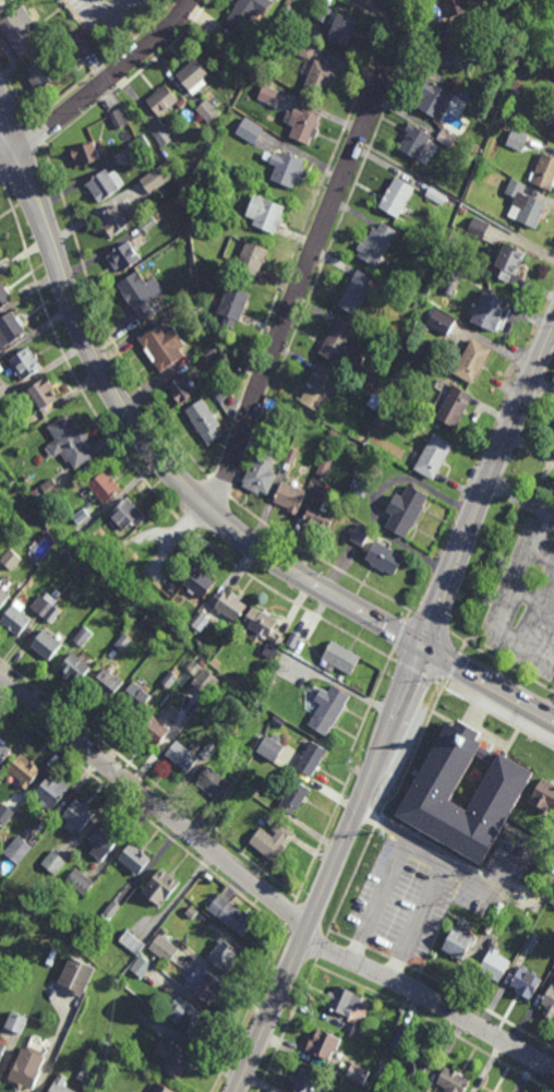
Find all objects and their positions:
building: (455, 7)
building: (62, 10)
building: (242, 13)
building: (324, 13)
road: (106, 20)
building: (344, 28)
building: (19, 31)
building: (81, 45)
building: (457, 47)
building: (246, 49)
building: (303, 50)
road: (103, 62)
building: (45, 71)
building: (193, 74)
building: (321, 77)
road: (130, 80)
road: (106, 81)
road: (15, 93)
building: (514, 93)
building: (268, 95)
building: (433, 97)
building: (161, 99)
building: (181, 101)
building: (207, 111)
building: (119, 118)
building: (304, 125)
building: (250, 130)
building: (552, 130)
road: (37, 133)
road: (8, 134)
building: (162, 135)
building: (517, 137)
building: (446, 140)
building: (414, 141)
building: (141, 144)
road: (8, 147)
building: (204, 147)
building: (86, 153)
road: (8, 160)
building: (287, 168)
building: (544, 171)
building: (156, 178)
road: (2, 182)
building: (105, 183)
building: (433, 193)
building: (397, 196)
building: (213, 204)
building: (525, 204)
building: (265, 213)
building: (115, 219)
building: (149, 223)
building: (478, 228)
road: (301, 232)
building: (376, 243)
road: (329, 250)
road: (310, 253)
building: (124, 255)
building: (252, 256)
building: (505, 262)
building: (1, 264)
building: (456, 275)
building: (449, 288)
building: (357, 292)
building: (141, 293)
building: (4, 296)
building: (232, 305)
building: (490, 310)
road: (104, 322)
building: (441, 322)
building: (11, 328)
building: (162, 345)
building: (341, 346)
building: (395, 349)
building: (210, 352)
building: (472, 361)
building: (25, 362)
building: (320, 386)
building: (180, 389)
building: (221, 391)
building: (43, 394)
building: (455, 406)
building: (204, 421)
building: (28, 422)
building: (71, 442)
road: (155, 454)
building: (291, 456)
building: (433, 457)
building: (323, 467)
building: (262, 470)
road: (138, 473)
building: (360, 484)
building: (552, 484)
road: (218, 488)
building: (103, 489)
building: (46, 491)
building: (289, 497)
road: (522, 502)
building: (406, 511)
building: (322, 512)
building: (128, 514)
building: (82, 519)
building: (360, 535)
building: (56, 553)
building: (113, 553)
road: (320, 557)
building: (40, 559)
building: (385, 559)
building: (11, 560)
building: (4, 564)
building: (200, 583)
building: (3, 598)
road: (507, 600)
building: (230, 605)
building: (48, 607)
building: (16, 617)
building: (172, 617)
building: (196, 621)
building: (179, 627)
building: (263, 629)
road: (400, 636)
building: (82, 637)
building: (292, 639)
building: (150, 641)
building: (123, 643)
building: (46, 645)
traffic signals: (423, 648)
building: (340, 658)
road: (455, 664)
building: (76, 667)
road: (509, 668)
building: (281, 670)
road: (414, 671)
building: (274, 674)
building: (171, 677)
building: (203, 680)
building: (107, 683)
road: (487, 683)
road: (345, 687)
building: (136, 695)
building: (194, 697)
road: (371, 705)
building: (328, 709)
road: (397, 709)
road: (551, 710)
road: (494, 716)
building: (157, 728)
building: (272, 748)
building: (3, 751)
building: (207, 752)
building: (224, 753)
road: (414, 754)
building: (182, 756)
building: (311, 758)
road: (351, 763)
building: (24, 769)
building: (215, 782)
building: (256, 790)
building: (463, 792)
building: (48, 794)
building: (293, 794)
building: (544, 795)
road: (156, 803)
building: (9, 808)
building: (77, 814)
building: (267, 818)
road: (377, 821)
building: (508, 837)
building: (104, 838)
road: (323, 838)
building: (272, 839)
building: (16, 849)
building: (134, 857)
building: (52, 861)
road: (448, 866)
road: (351, 880)
building: (79, 881)
building: (160, 885)
road: (381, 900)
building: (110, 910)
building: (184, 913)
building: (230, 914)
road: (417, 921)
building: (496, 931)
building: (162, 934)
building: (131, 941)
building: (459, 941)
building: (530, 943)
building: (64, 948)
building: (164, 948)
building: (171, 950)
building: (224, 953)
building: (494, 964)
building: (553, 965)
building: (142, 967)
building: (76, 974)
building: (527, 982)
building: (207, 985)
building: (550, 999)
building: (345, 1000)
road: (430, 1000)
road: (250, 1007)
building: (147, 1015)
building: (189, 1017)
building: (16, 1021)
road: (287, 1025)
building: (359, 1030)
building: (323, 1043)
building: (105, 1044)
building: (2, 1051)
building: (173, 1057)
building: (418, 1057)
building: (26, 1068)
building: (87, 1072)
building: (384, 1072)
building: (358, 1075)
building: (304, 1080)
building: (453, 1080)
building: (61, 1084)
building: (162, 1088)
building: (423, 1090)
building: (479, 1091)

